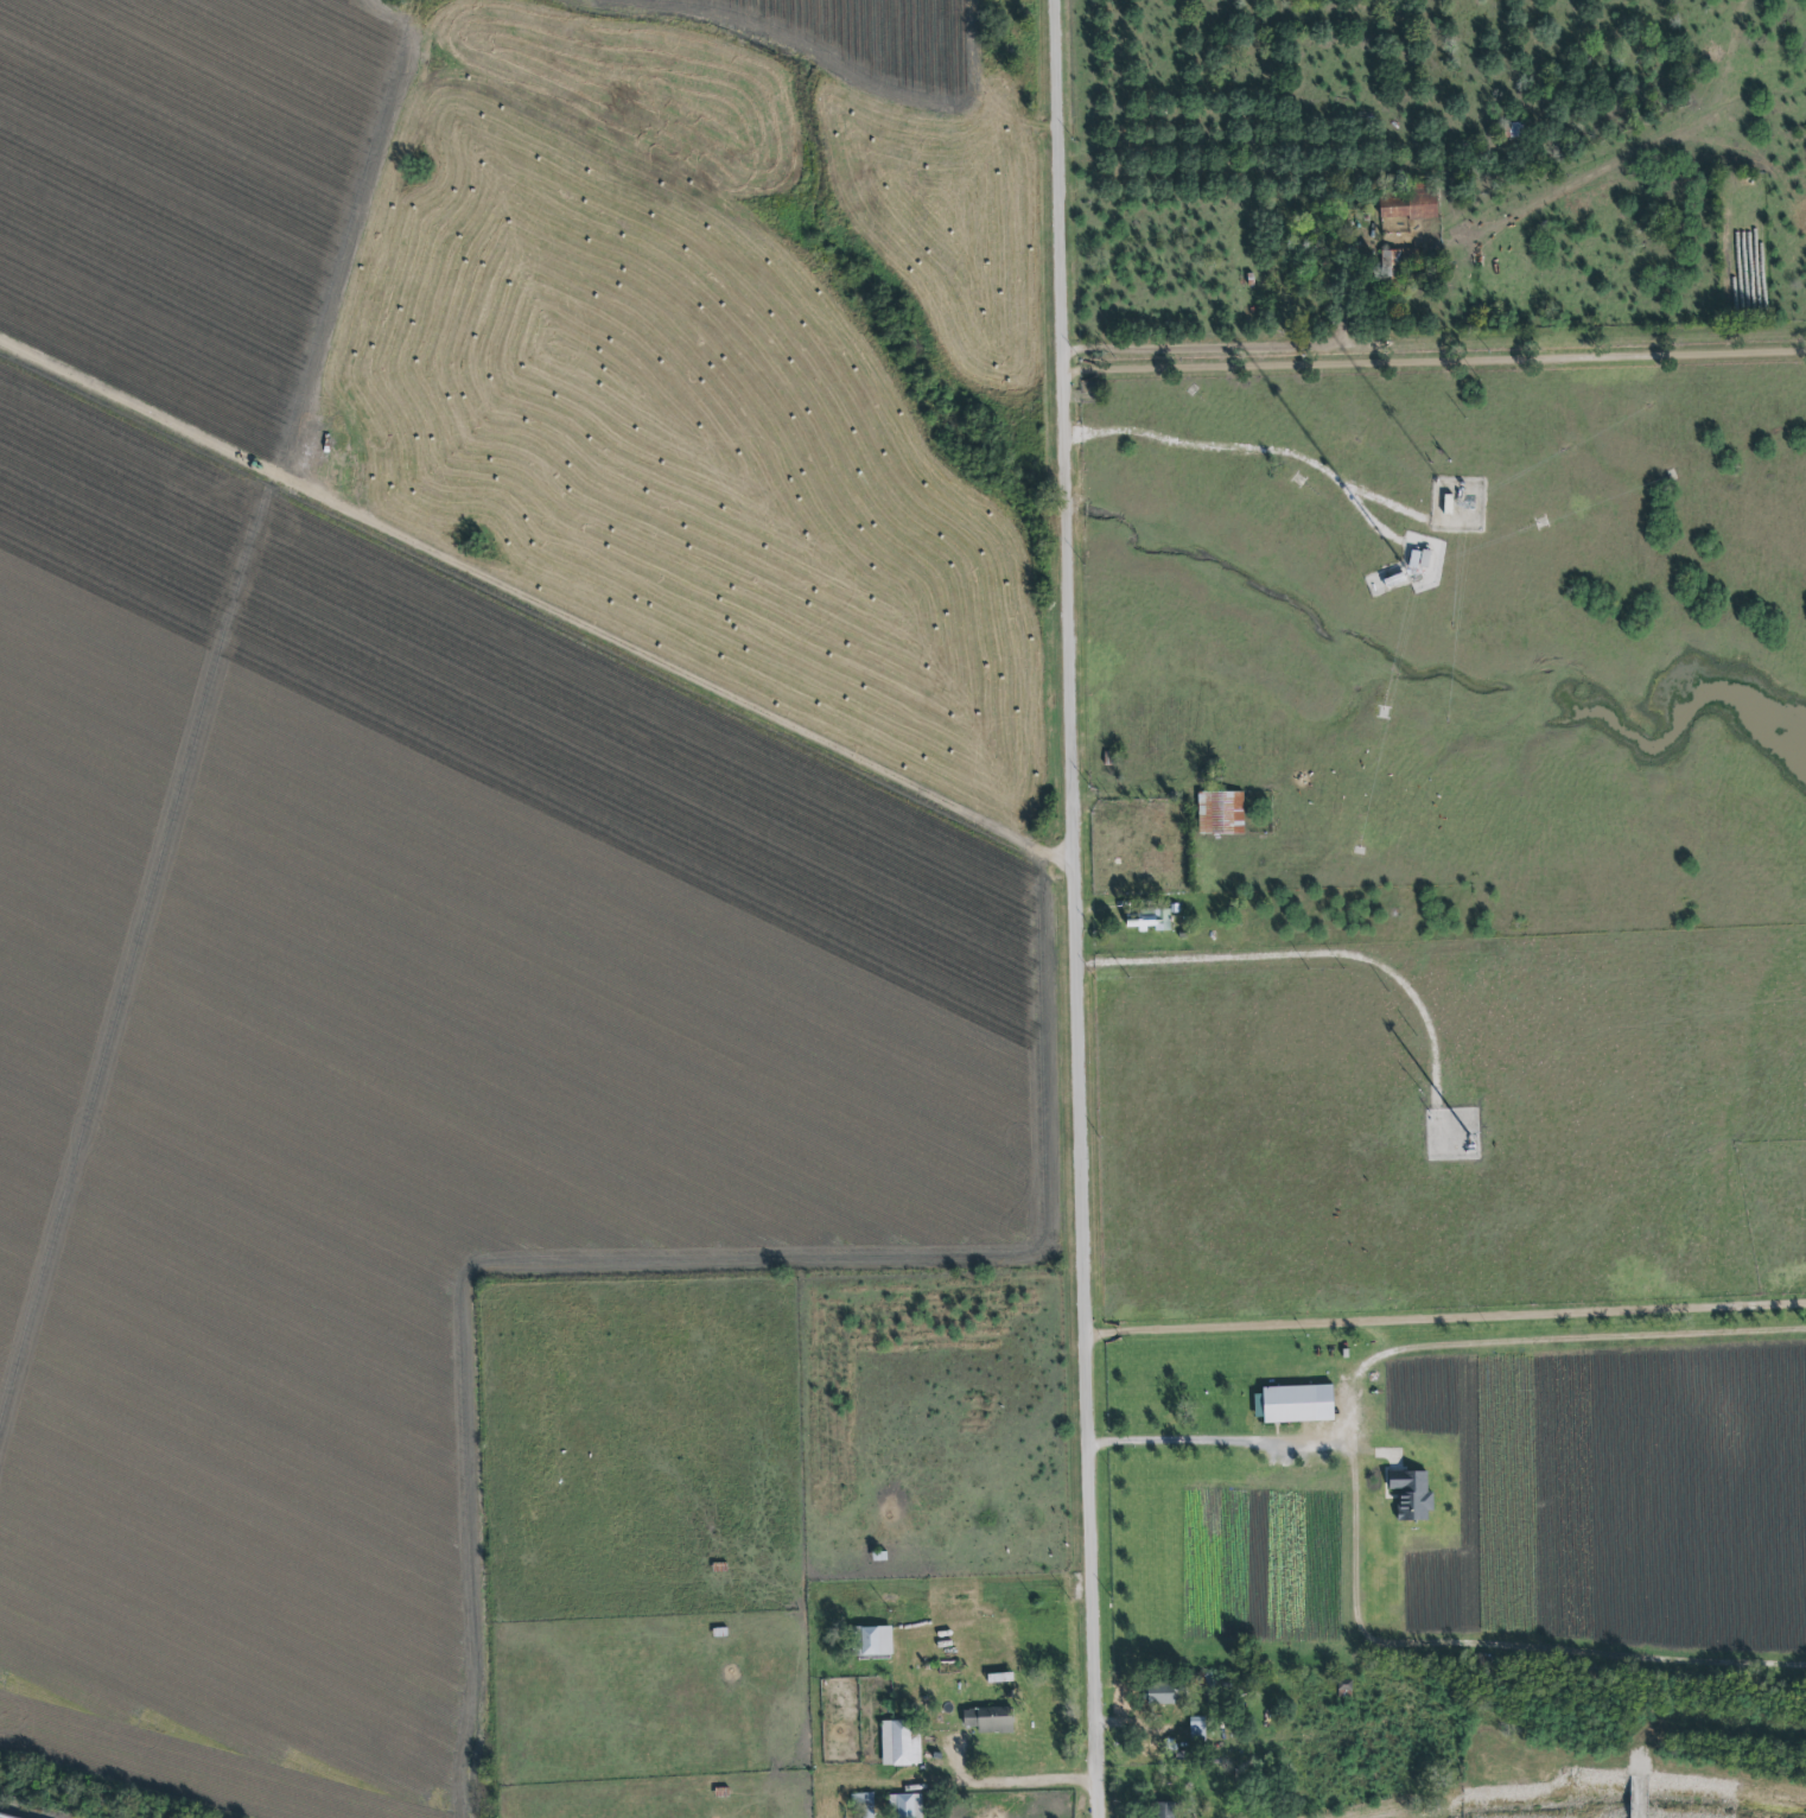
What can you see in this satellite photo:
road: (783, 68)
building: (1406, 210)
road: (1436, 364)
road: (1242, 452)
building: (1220, 813)
road: (1080, 909)
building: (1152, 920)
road: (1309, 955)
road: (1446, 1320)
building: (1295, 1406)
road: (1242, 1444)
building: (1411, 1496)
building: (873, 1641)
building: (1160, 1693)
building: (990, 1720)
building: (1197, 1728)
building: (899, 1743)
road: (603, 1786)
building: (865, 1806)
building: (905, 1806)
building: (1165, 1810)

